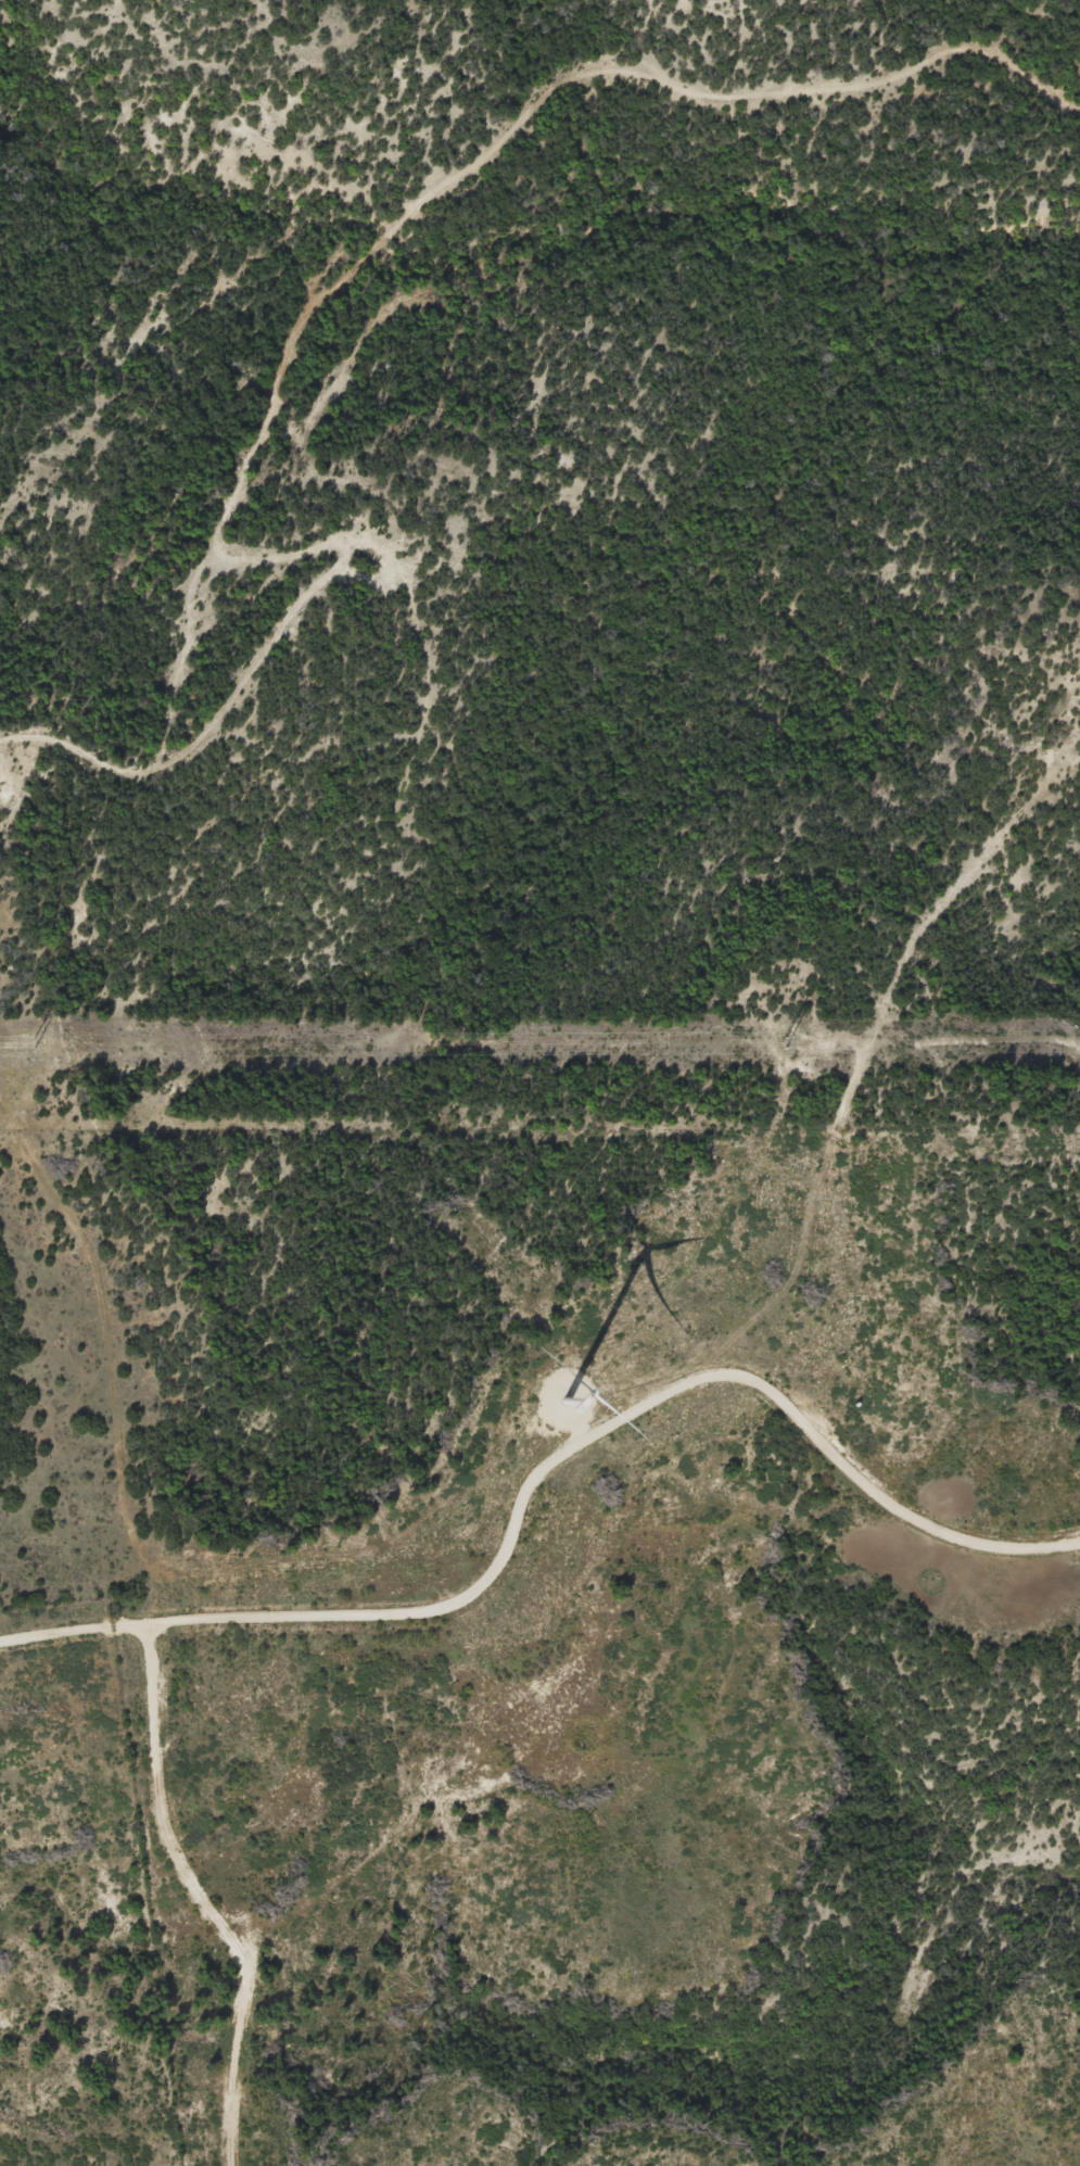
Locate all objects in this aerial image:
road: (322, 303)
power tower: (785, 1040)
power tower: (29, 1041)
wind turbine: (550, 1399)

